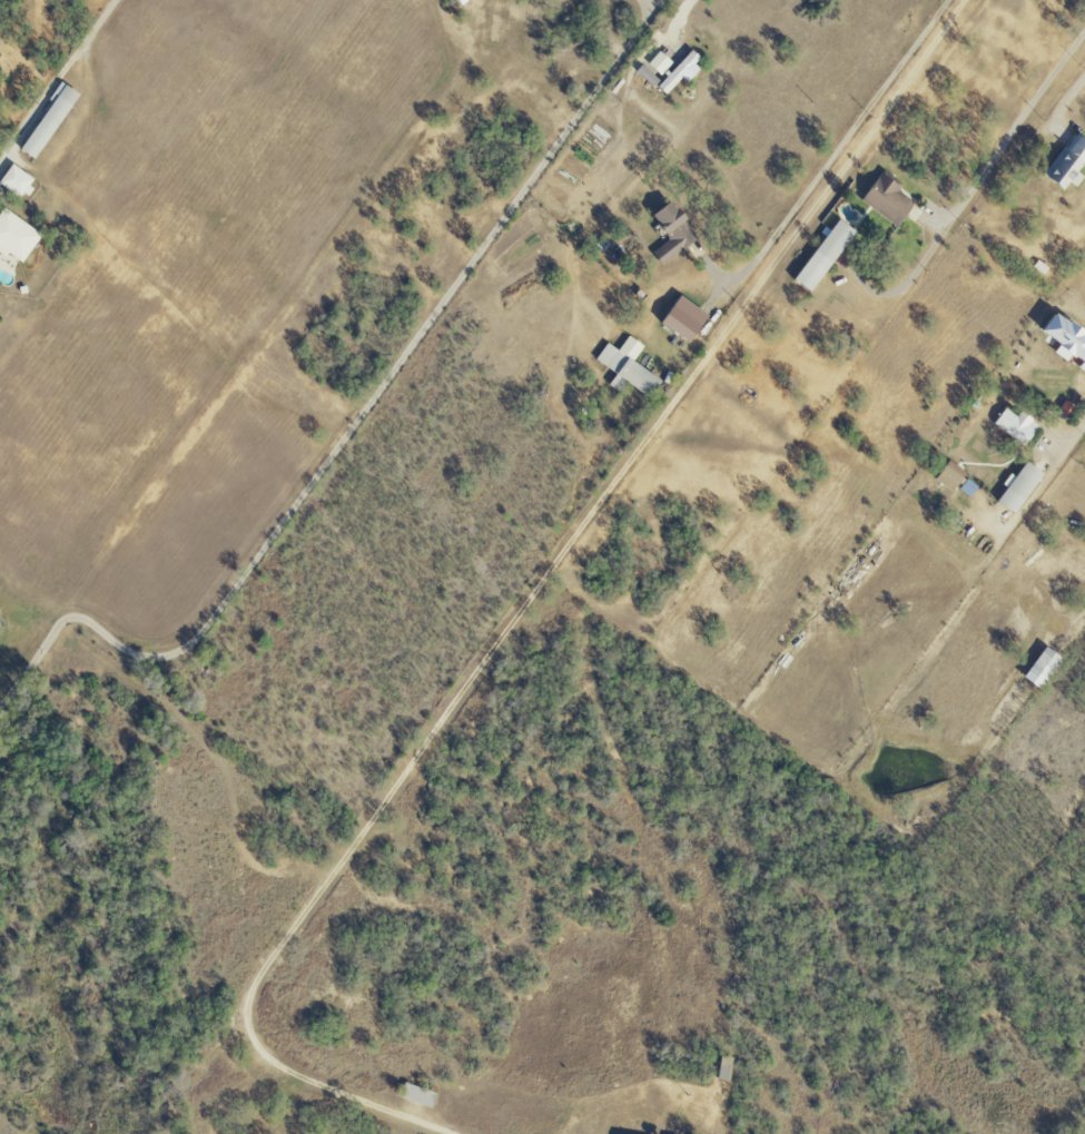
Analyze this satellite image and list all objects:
road: (650, 3)
road: (679, 16)
building: (662, 62)
building: (683, 70)
building: (649, 76)
road: (56, 78)
road: (1064, 101)
building: (51, 121)
road: (827, 161)
building: (1069, 164)
building: (18, 180)
road: (974, 181)
building: (889, 199)
building: (0, 205)
building: (674, 231)
building: (17, 236)
building: (827, 255)
building: (687, 319)
building: (1067, 336)
building: (630, 367)
building: (1084, 368)
building: (1067, 408)
road: (354, 423)
building: (1018, 425)
road: (1051, 470)
building: (953, 476)
building: (1022, 487)
road: (526, 603)
building: (1044, 668)
building: (418, 1095)

